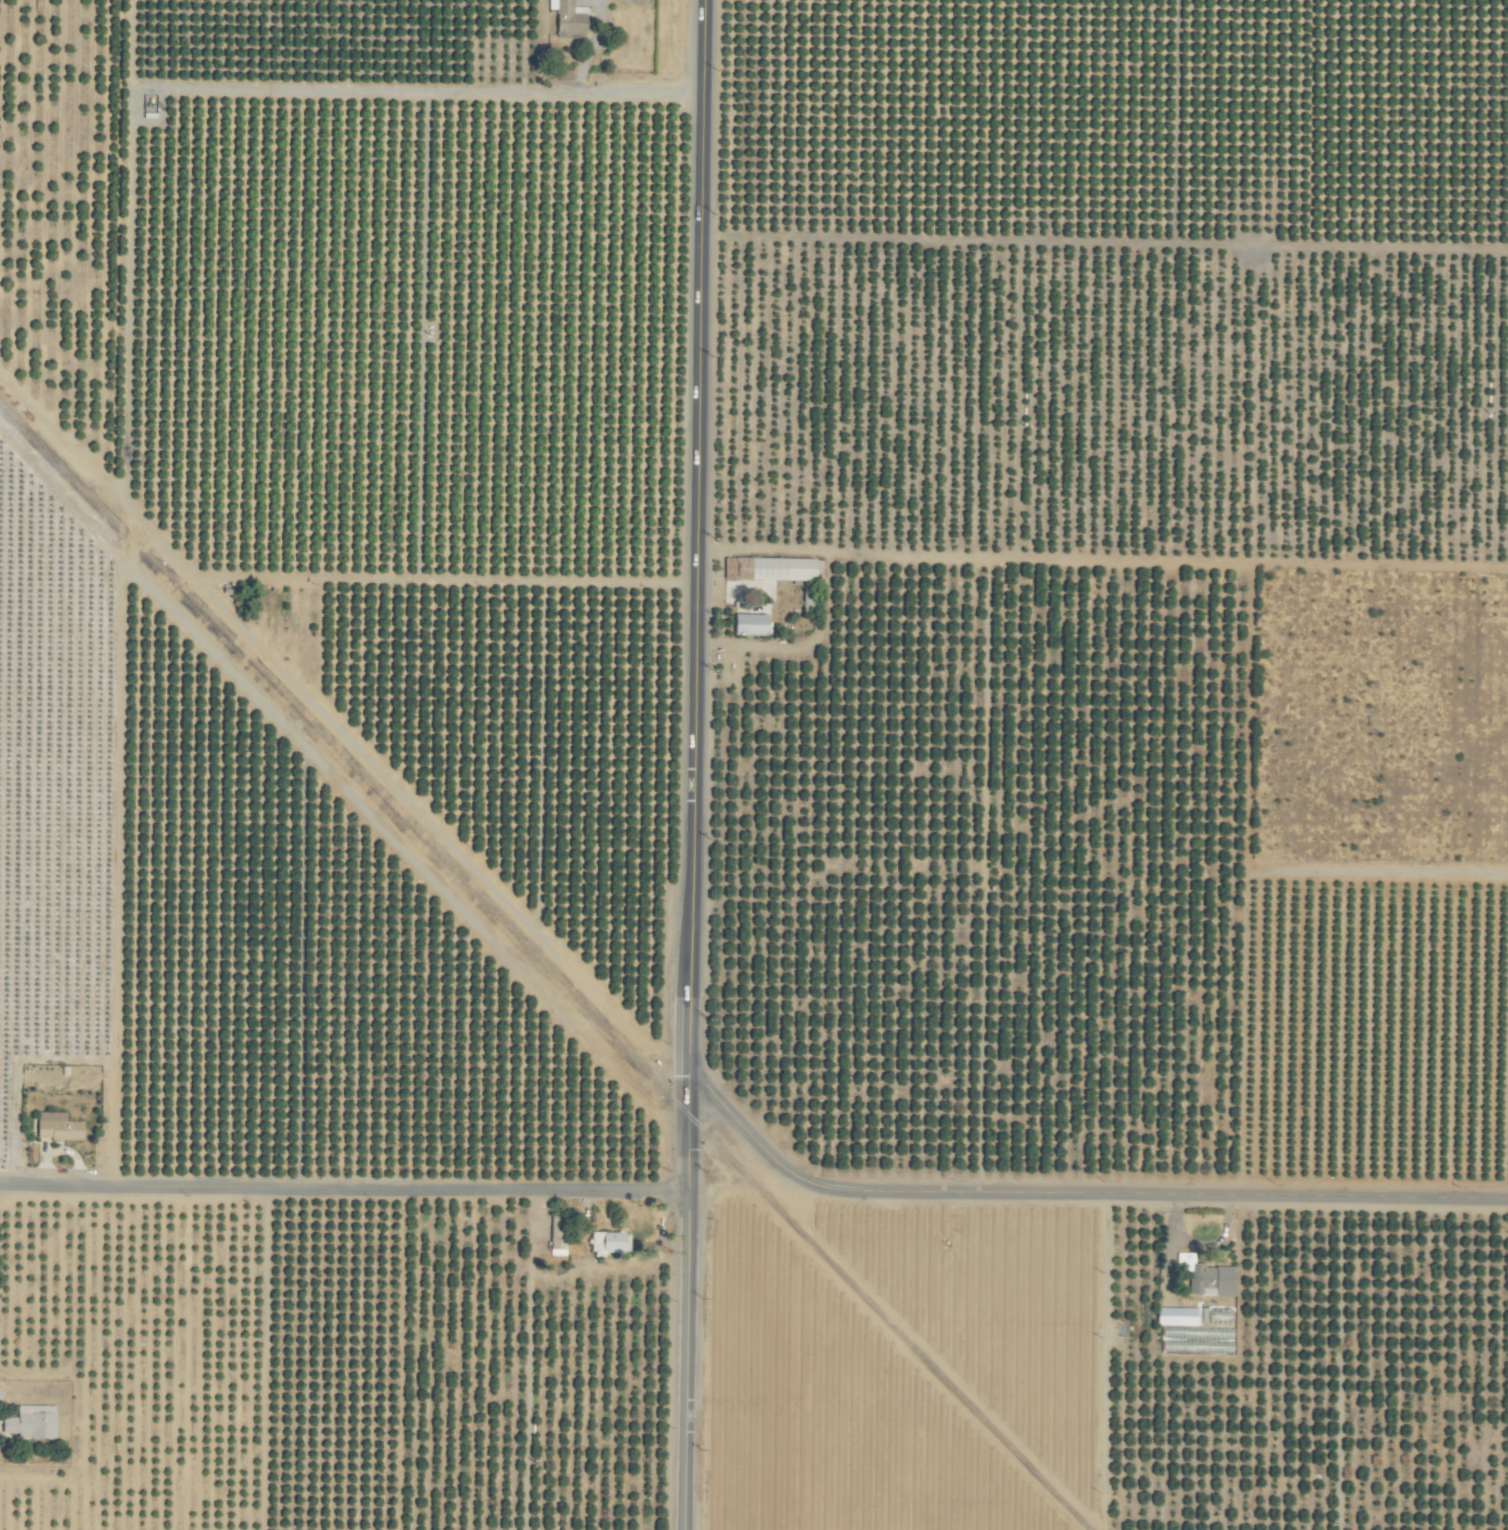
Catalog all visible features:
building: (570, 17)
road: (440, 93)
road: (693, 557)
road: (1100, 560)
building: (778, 572)
building: (752, 624)
crop: (754, 765)
railway: (544, 966)
building: (59, 1127)
road: (343, 1187)
road: (1077, 1200)
building: (559, 1236)
building: (610, 1242)
building: (1207, 1277)
building: (1178, 1317)
road: (685, 1322)
building: (0, 1394)
building: (33, 1422)

